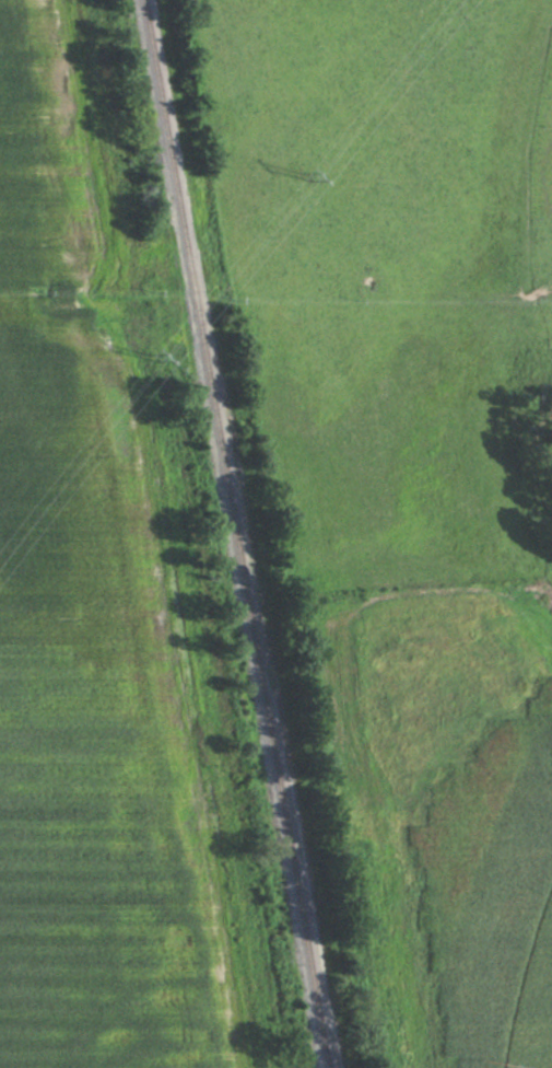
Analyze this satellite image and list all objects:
power tower: (294, 175)
power tower: (144, 352)
railway: (237, 534)

